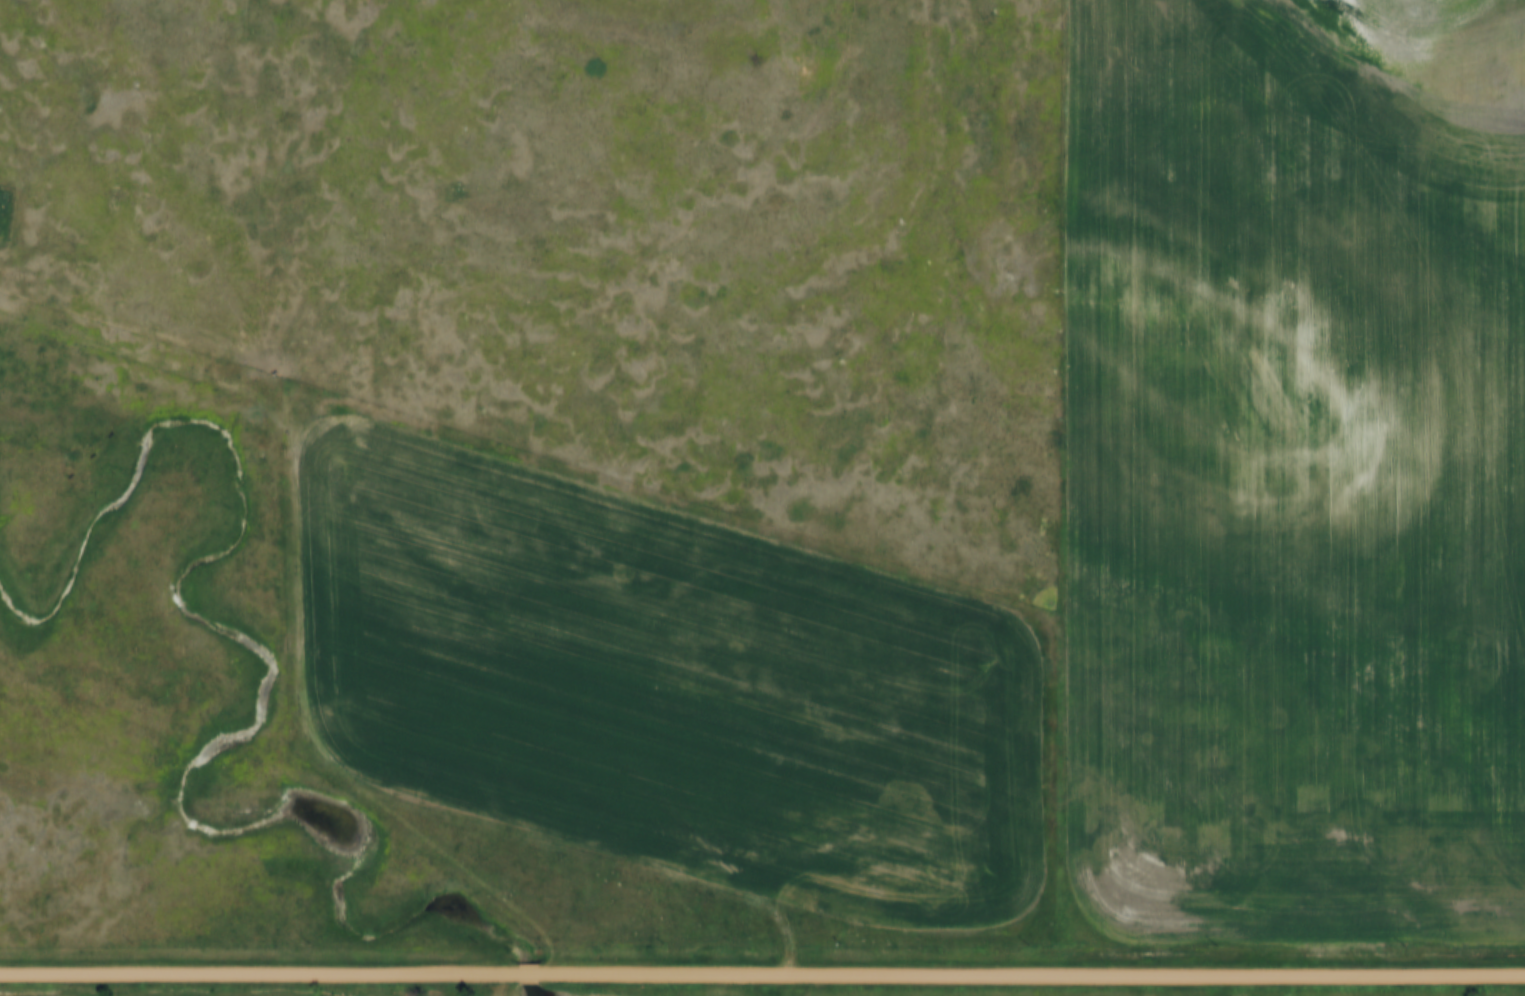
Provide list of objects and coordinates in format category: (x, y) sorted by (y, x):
road: (255, 971)
road: (519, 972)
road: (1027, 974)

